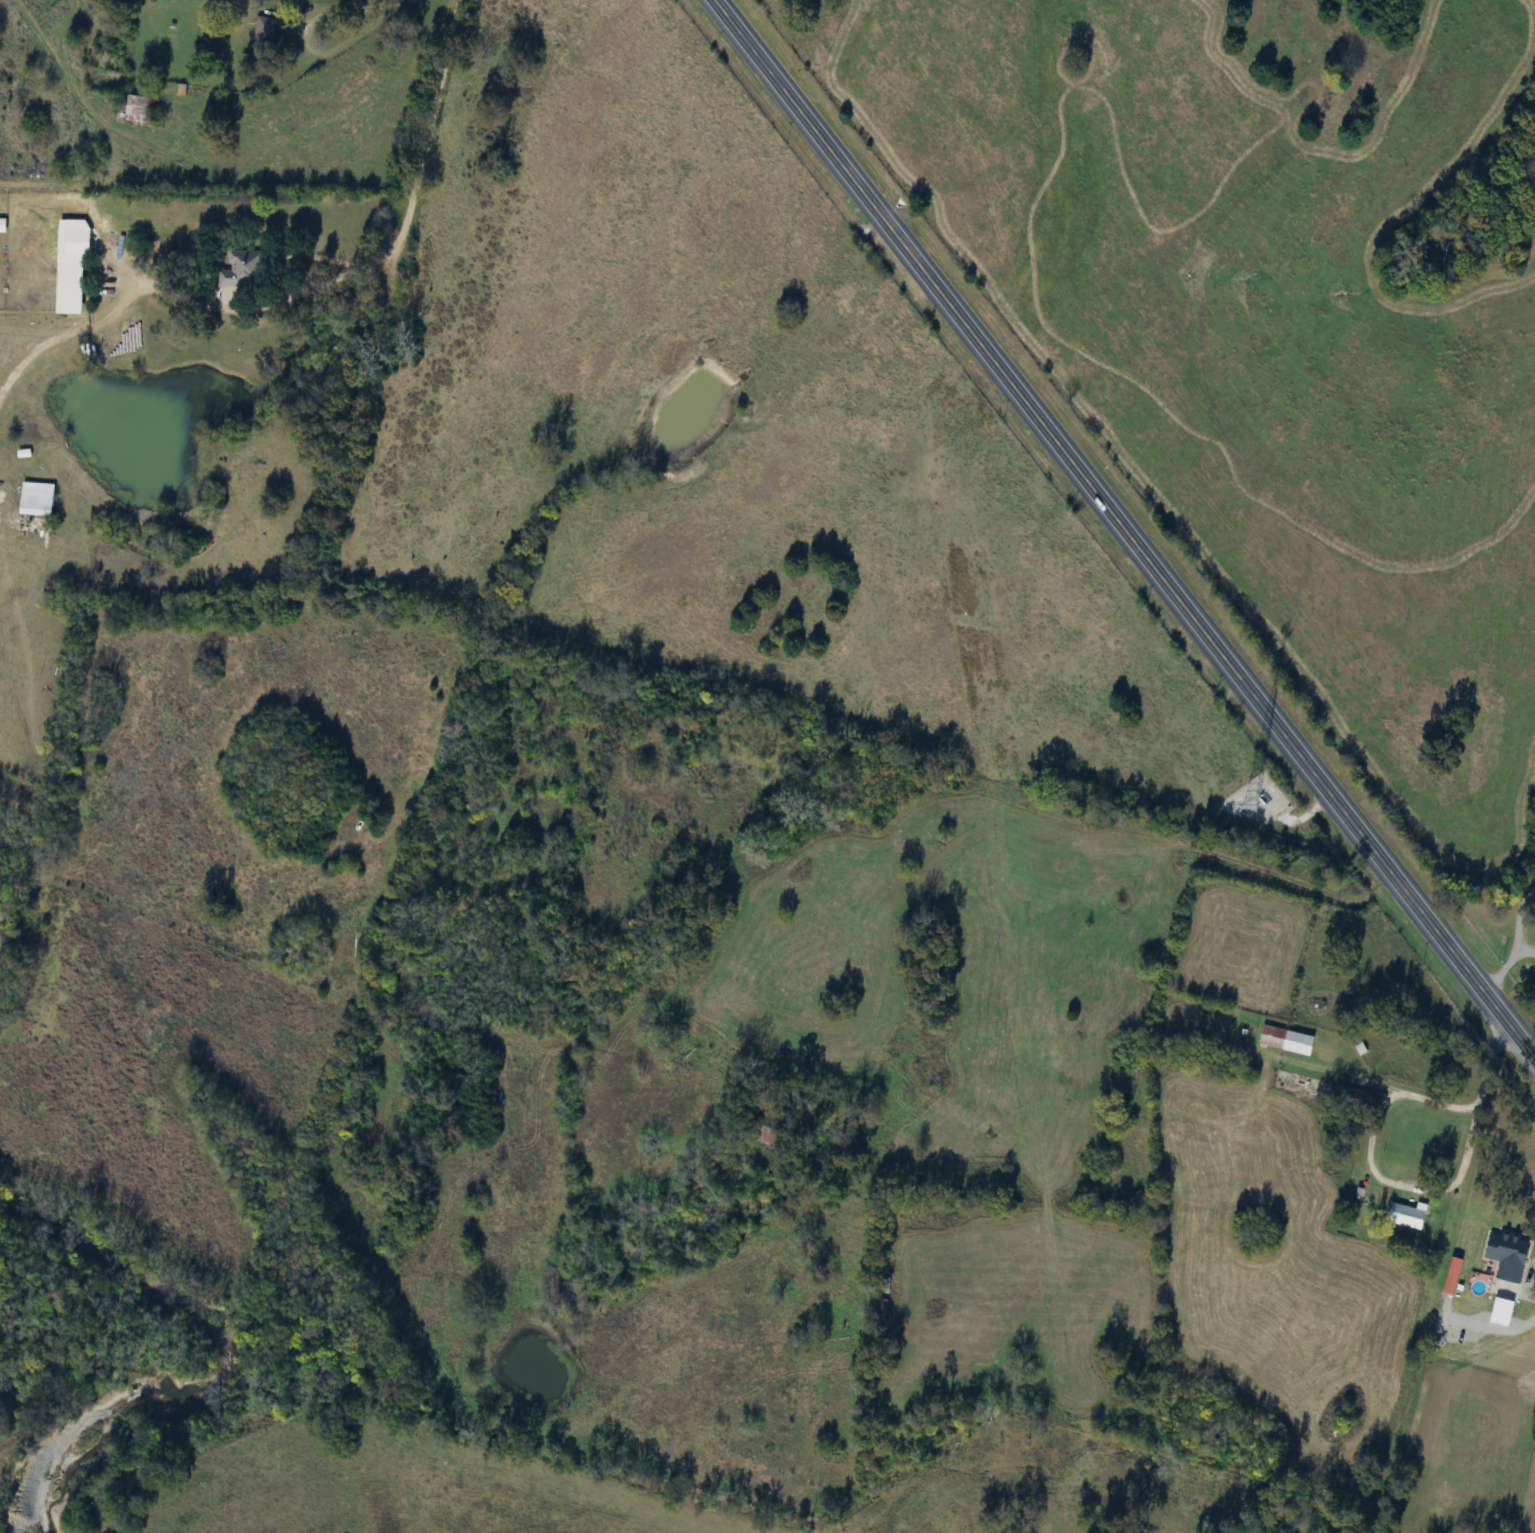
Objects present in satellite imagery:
building: (262, 31)
building: (134, 110)
road: (426, 129)
building: (151, 248)
building: (111, 258)
building: (240, 270)
road: (176, 291)
building: (34, 499)
road: (1126, 529)
road: (1505, 965)
building: (1283, 1039)
road: (1407, 1180)
building: (1405, 1214)
building: (1504, 1254)
building: (1452, 1267)
road: (1528, 1277)
building: (880, 1285)
building: (878, 1315)
road: (1493, 1326)

